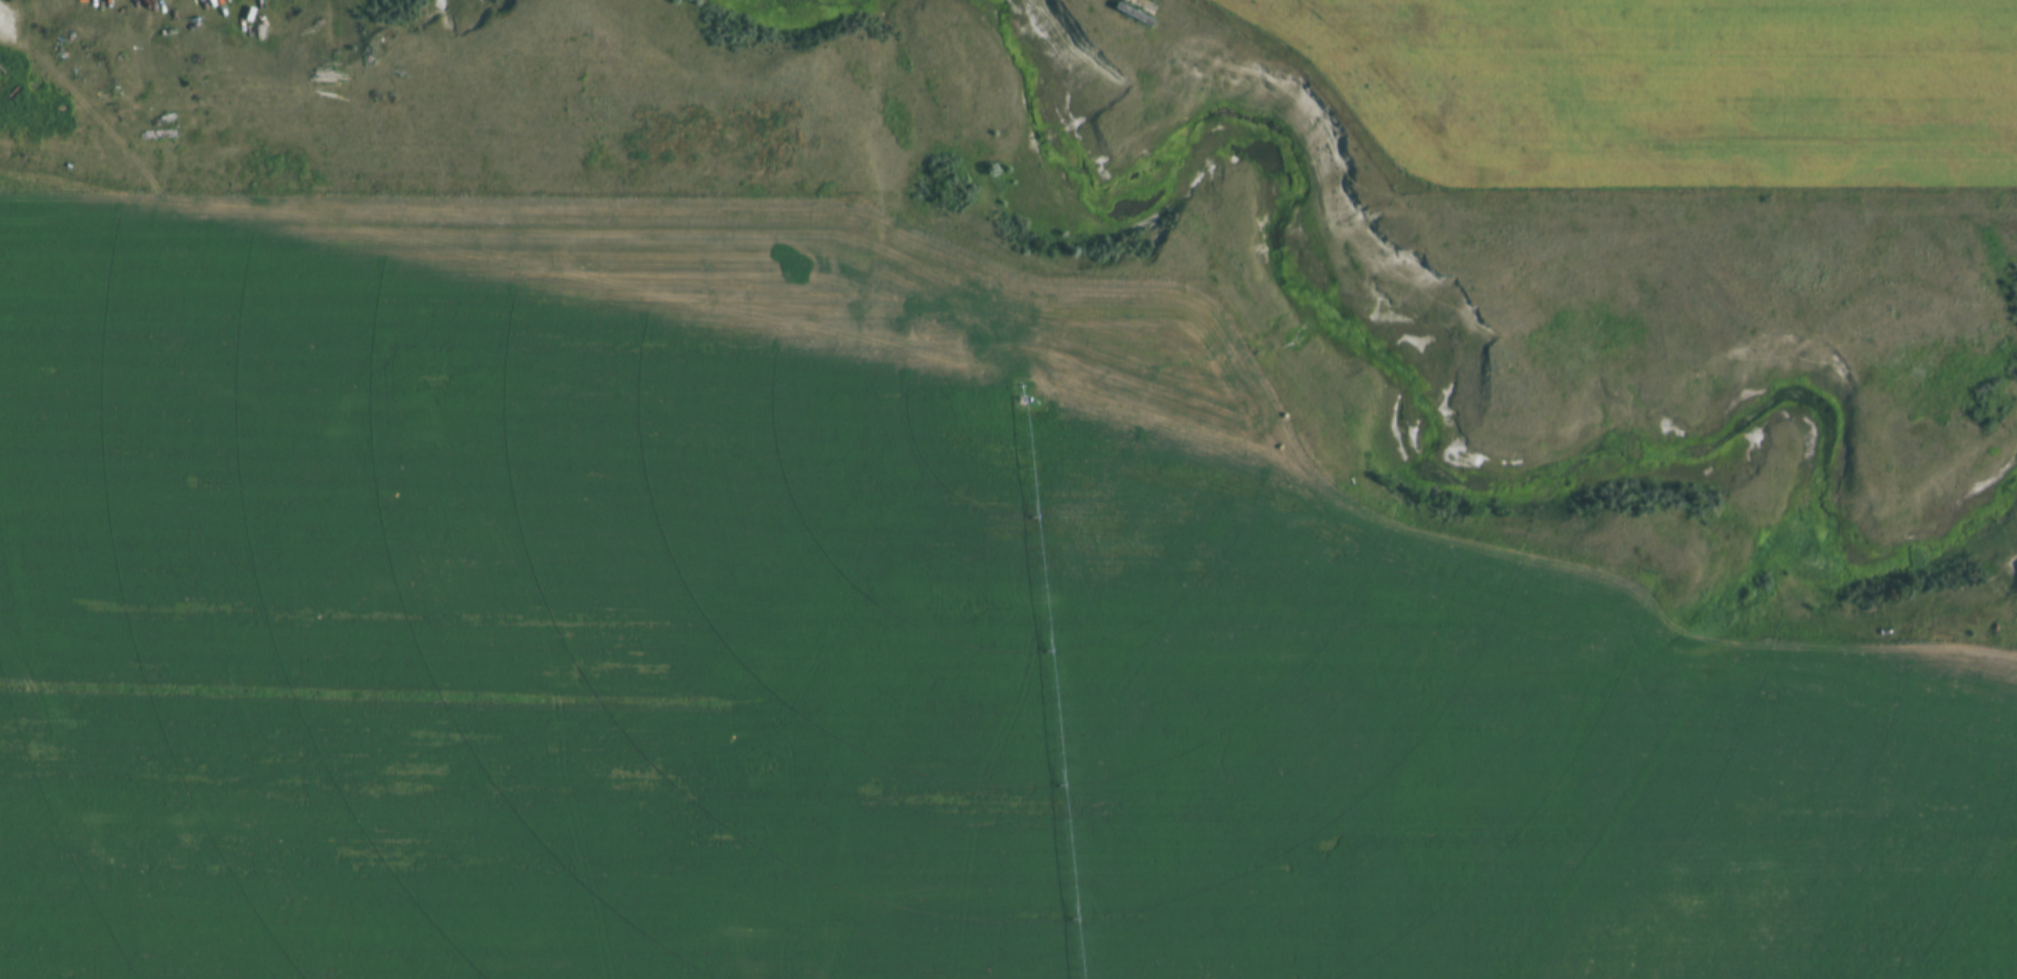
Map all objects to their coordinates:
road: (593, 573)
road: (1417, 665)

